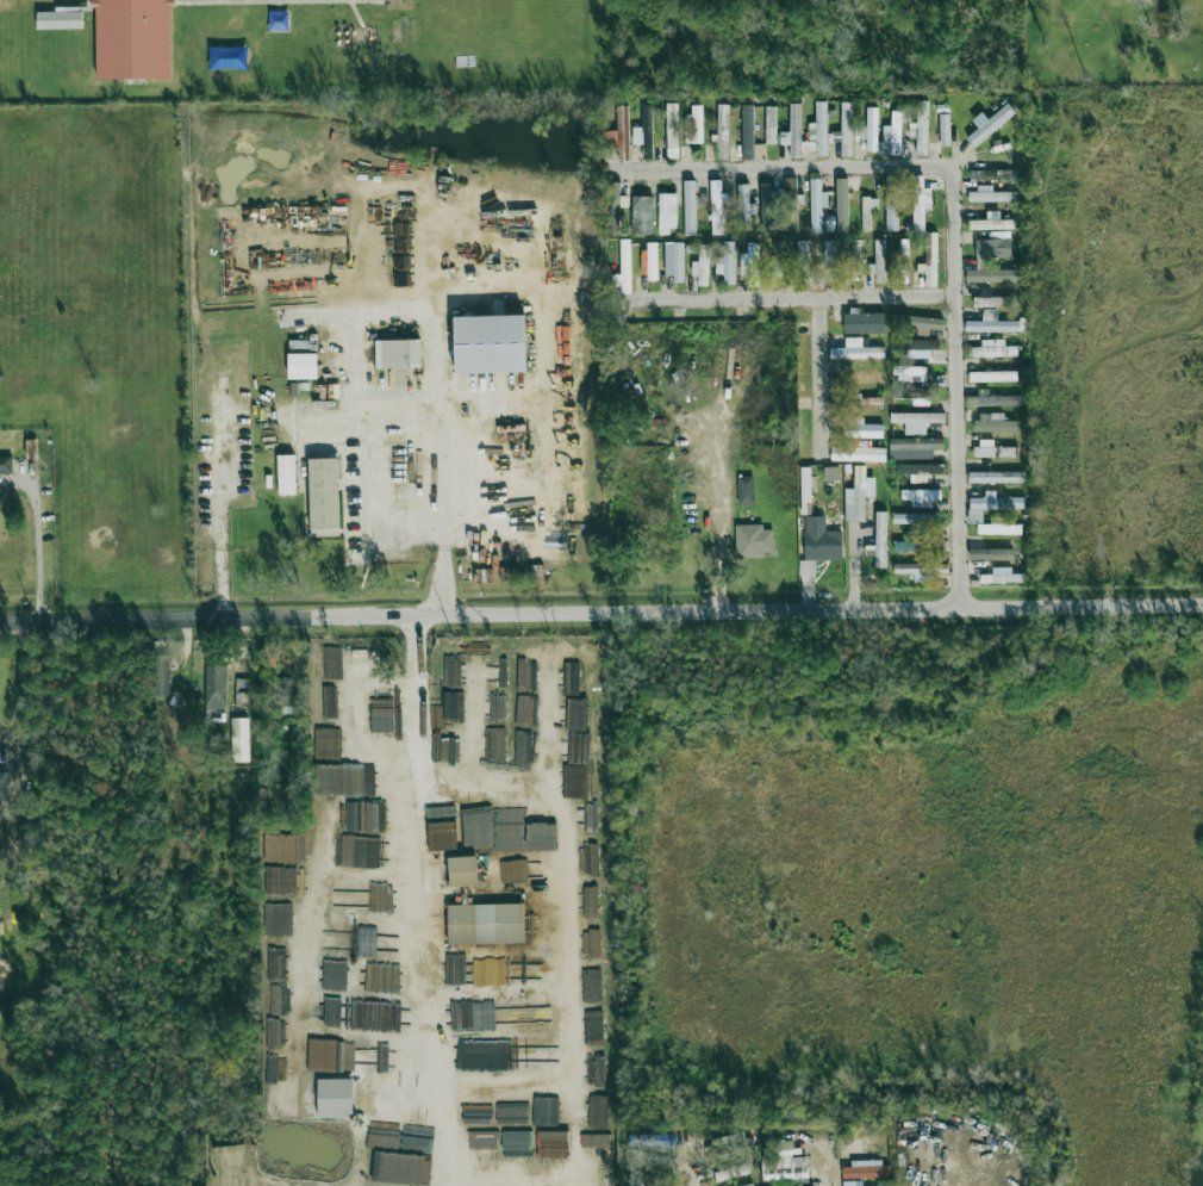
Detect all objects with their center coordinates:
building: (61, 18)
building: (132, 39)
building: (989, 124)
building: (694, 125)
building: (769, 125)
building: (922, 128)
building: (846, 129)
building: (871, 129)
building: (672, 130)
building: (818, 130)
building: (945, 130)
building: (722, 131)
building: (747, 131)
building: (644, 132)
building: (793, 132)
building: (619, 133)
building: (891, 137)
building: (992, 175)
building: (790, 190)
building: (990, 195)
building: (891, 203)
building: (920, 203)
building: (817, 204)
building: (841, 205)
building: (688, 207)
building: (716, 207)
building: (744, 207)
building: (615, 209)
building: (667, 212)
building: (867, 212)
building: (642, 215)
road: (441, 217)
building: (830, 223)
building: (986, 224)
road: (937, 225)
building: (993, 248)
building: (778, 259)
building: (856, 259)
building: (930, 259)
building: (673, 260)
building: (803, 260)
building: (829, 260)
building: (879, 260)
building: (652, 261)
building: (904, 261)
building: (750, 262)
building: (727, 263)
building: (702, 266)
building: (623, 268)
building: (991, 273)
building: (816, 278)
building: (993, 299)
road: (775, 310)
building: (864, 322)
building: (916, 322)
building: (991, 323)
building: (490, 343)
building: (916, 346)
building: (993, 349)
building: (855, 350)
building: (398, 353)
building: (303, 366)
building: (910, 373)
building: (993, 375)
building: (858, 379)
road: (800, 389)
building: (911, 392)
building: (993, 399)
building: (864, 402)
building: (920, 402)
building: (916, 421)
building: (993, 423)
road: (440, 424)
building: (861, 429)
building: (914, 447)
building: (31, 448)
building: (992, 449)
building: (858, 454)
building: (6, 465)
building: (920, 468)
building: (830, 473)
building: (286, 474)
building: (996, 477)
building: (921, 478)
building: (746, 490)
road: (219, 493)
building: (323, 493)
building: (858, 495)
building: (921, 495)
building: (990, 505)
road: (722, 515)
building: (915, 519)
building: (996, 526)
building: (880, 539)
building: (754, 541)
building: (823, 545)
building: (909, 546)
road: (38, 549)
building: (920, 570)
road: (600, 610)
building: (269, 657)
building: (162, 676)
building: (572, 678)
road: (19, 687)
building: (216, 687)
building: (243, 693)
building: (282, 695)
road: (418, 695)
building: (239, 740)
building: (576, 781)
road: (15, 782)
building: (4, 786)
building: (286, 850)
building: (462, 871)
building: (355, 899)
building: (485, 924)
road: (422, 981)
building: (322, 1054)
building: (362, 1057)
building: (335, 1099)
building: (730, 1145)
building: (798, 1167)
road: (692, 1169)
building: (742, 1169)
building: (866, 1169)
road: (958, 1171)
road: (825, 1175)
building: (654, 1181)
building: (852, 1182)
building: (883, 1182)
building: (749, 1185)

